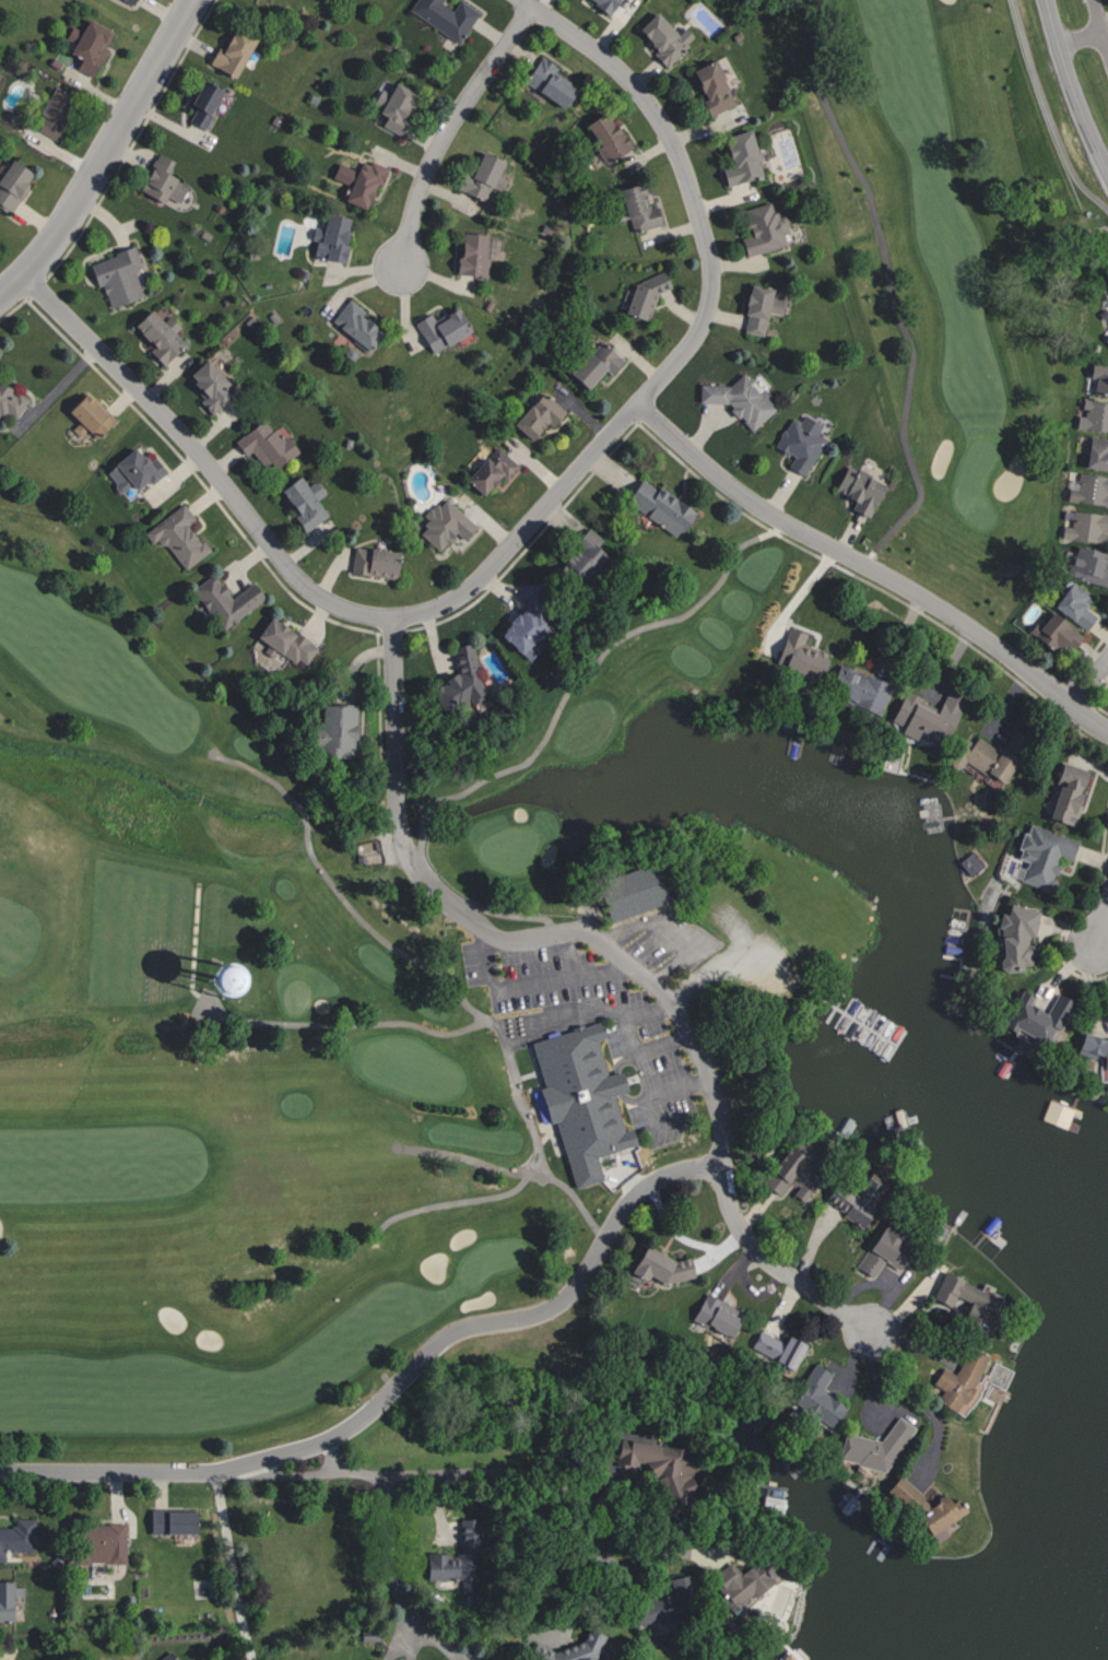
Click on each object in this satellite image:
building: (128, 1)
building: (601, 4)
building: (444, 16)
road: (1099, 25)
road: (1080, 38)
building: (658, 39)
building: (87, 47)
building: (229, 52)
building: (546, 81)
building: (708, 86)
road: (1071, 87)
building: (201, 104)
building: (390, 105)
building: (52, 110)
road: (1050, 113)
road: (447, 126)
building: (604, 136)
road: (104, 151)
building: (738, 157)
building: (481, 178)
building: (160, 181)
building: (10, 183)
building: (362, 183)
building: (636, 209)
building: (761, 228)
building: (328, 238)
building: (470, 256)
building: (116, 276)
building: (639, 295)
building: (756, 306)
building: (353, 325)
building: (439, 329)
building: (157, 334)
building: (1106, 338)
building: (592, 362)
building: (1098, 377)
building: (207, 386)
building: (736, 399)
building: (11, 401)
building: (89, 413)
building: (534, 413)
building: (1093, 415)
building: (263, 443)
building: (799, 443)
building: (1096, 451)
building: (488, 468)
building: (127, 470)
building: (857, 488)
building: (1089, 488)
road: (917, 497)
building: (302, 501)
building: (658, 506)
building: (443, 522)
building: (1085, 526)
road: (519, 533)
building: (176, 534)
building: (580, 554)
building: (370, 561)
building: (1086, 564)
road: (870, 568)
building: (223, 599)
building: (1072, 603)
building: (522, 628)
building: (1052, 632)
park: (444, 636)
building: (284, 640)
building: (799, 654)
building: (458, 680)
road: (577, 680)
road: (1089, 681)
building: (857, 687)
building: (923, 715)
building: (333, 729)
building: (980, 757)
building: (1064, 794)
building: (1040, 853)
road: (335, 888)
building: (632, 890)
road: (1100, 929)
building: (1013, 937)
road: (1100, 951)
road: (613, 952)
water tower: (222, 975)
building: (197, 976)
road: (528, 982)
building: (1035, 1016)
road: (497, 1037)
road: (661, 1045)
building: (1094, 1047)
road: (637, 1066)
building: (579, 1098)
road: (506, 1170)
building: (787, 1174)
building: (854, 1196)
building: (881, 1250)
building: (656, 1269)
building: (967, 1304)
building: (715, 1315)
building: (776, 1347)
building: (958, 1382)
road: (394, 1386)
road: (911, 1398)
building: (816, 1399)
building: (873, 1446)
building: (658, 1465)
road: (458, 1471)
building: (922, 1507)
building: (170, 1520)
building: (17, 1535)
building: (94, 1542)
building: (457, 1557)
road: (229, 1566)
road: (392, 1578)
building: (740, 1580)
building: (679, 1584)
building: (4, 1601)
building: (651, 1610)
building: (542, 1645)
building: (166, 1656)

